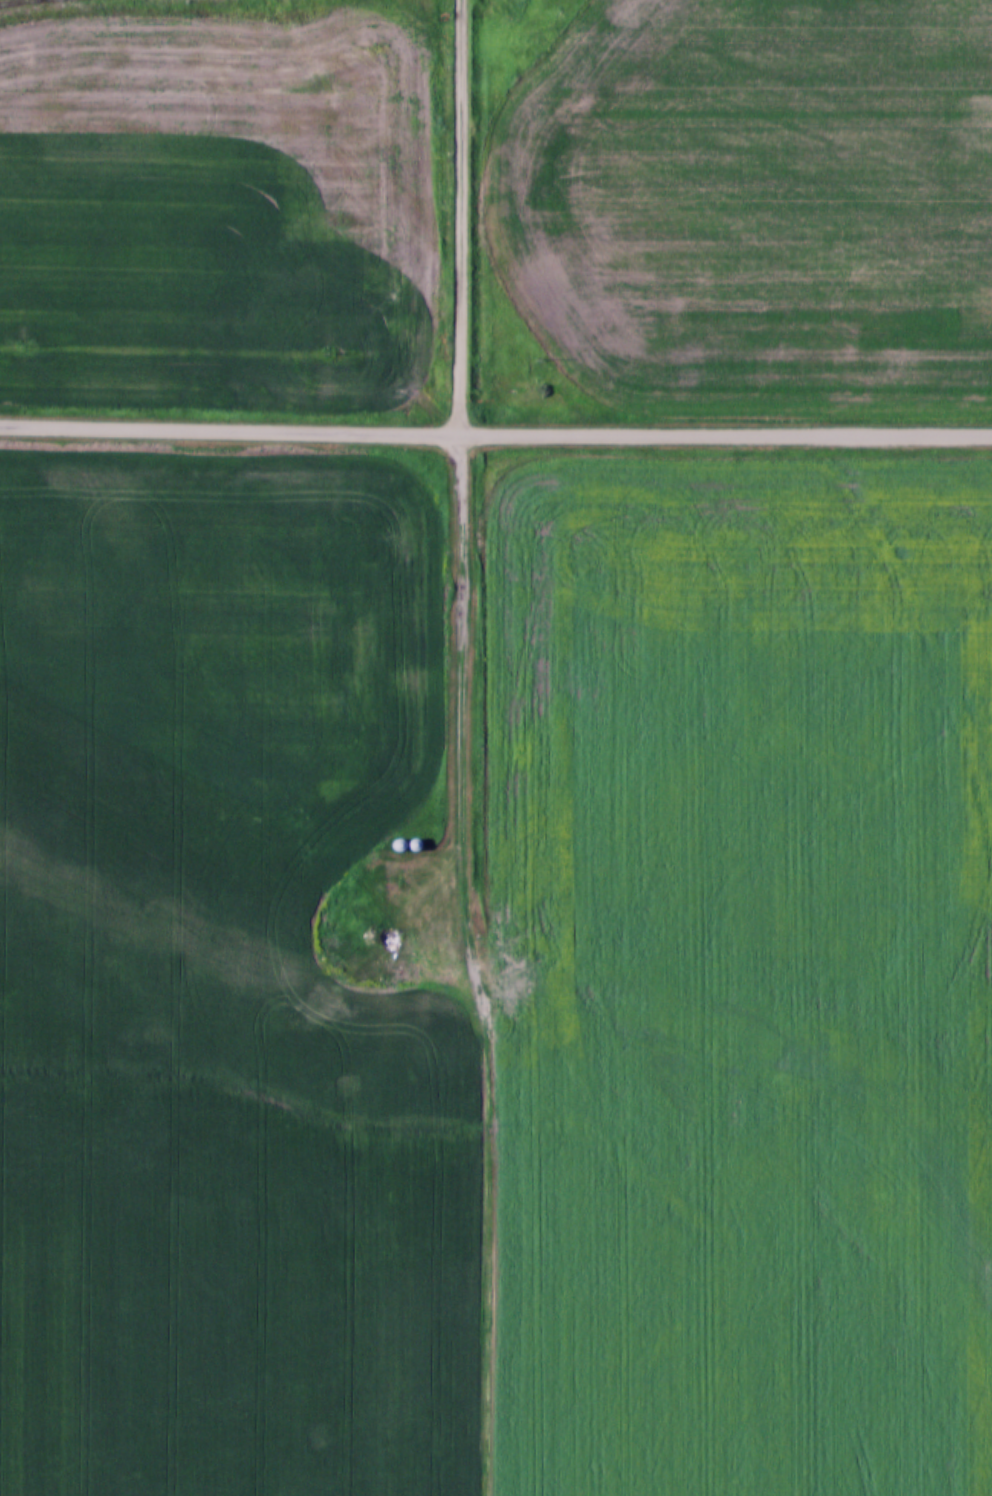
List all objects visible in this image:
road: (463, 217)
road: (495, 434)
building: (398, 843)
road: (475, 965)

